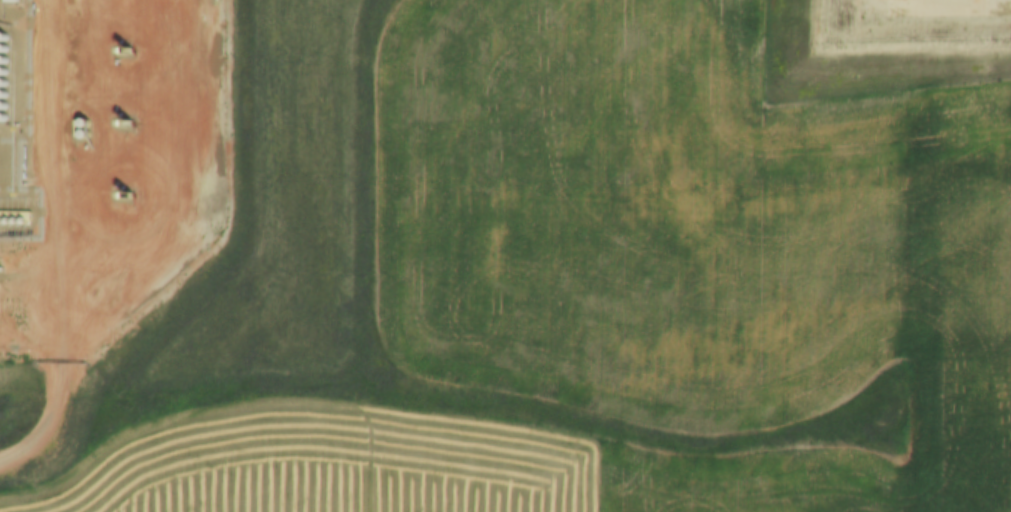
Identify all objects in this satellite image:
building: (7, 1)
petroleum well: (125, 50)
petroleum well: (124, 123)
petroleum well: (124, 194)
road: (57, 243)

